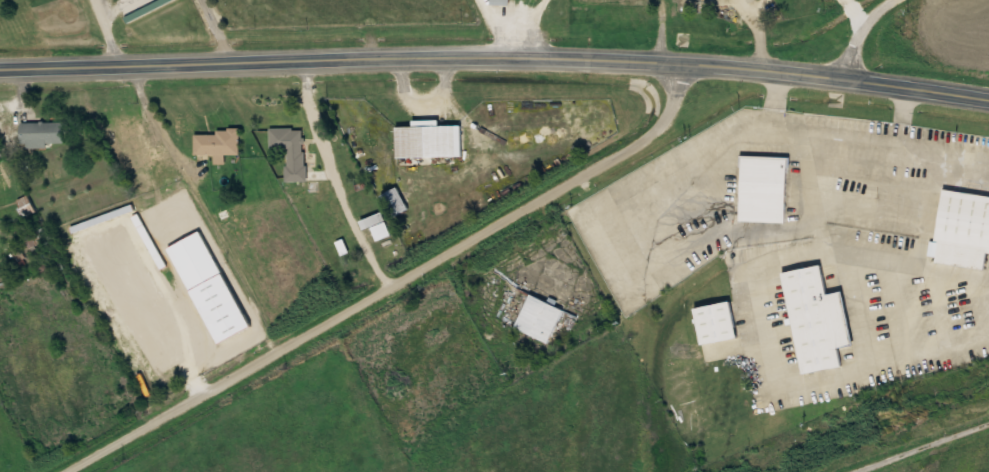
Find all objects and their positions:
building: (500, 2)
building: (148, 9)
road: (218, 30)
road: (858, 33)
road: (495, 58)
building: (43, 133)
building: (431, 141)
building: (132, 144)
building: (219, 144)
building: (289, 145)
building: (1, 155)
building: (764, 189)
building: (395, 202)
building: (967, 229)
road: (393, 284)
building: (210, 287)
building: (540, 319)
building: (819, 319)
building: (716, 322)
road: (928, 450)

